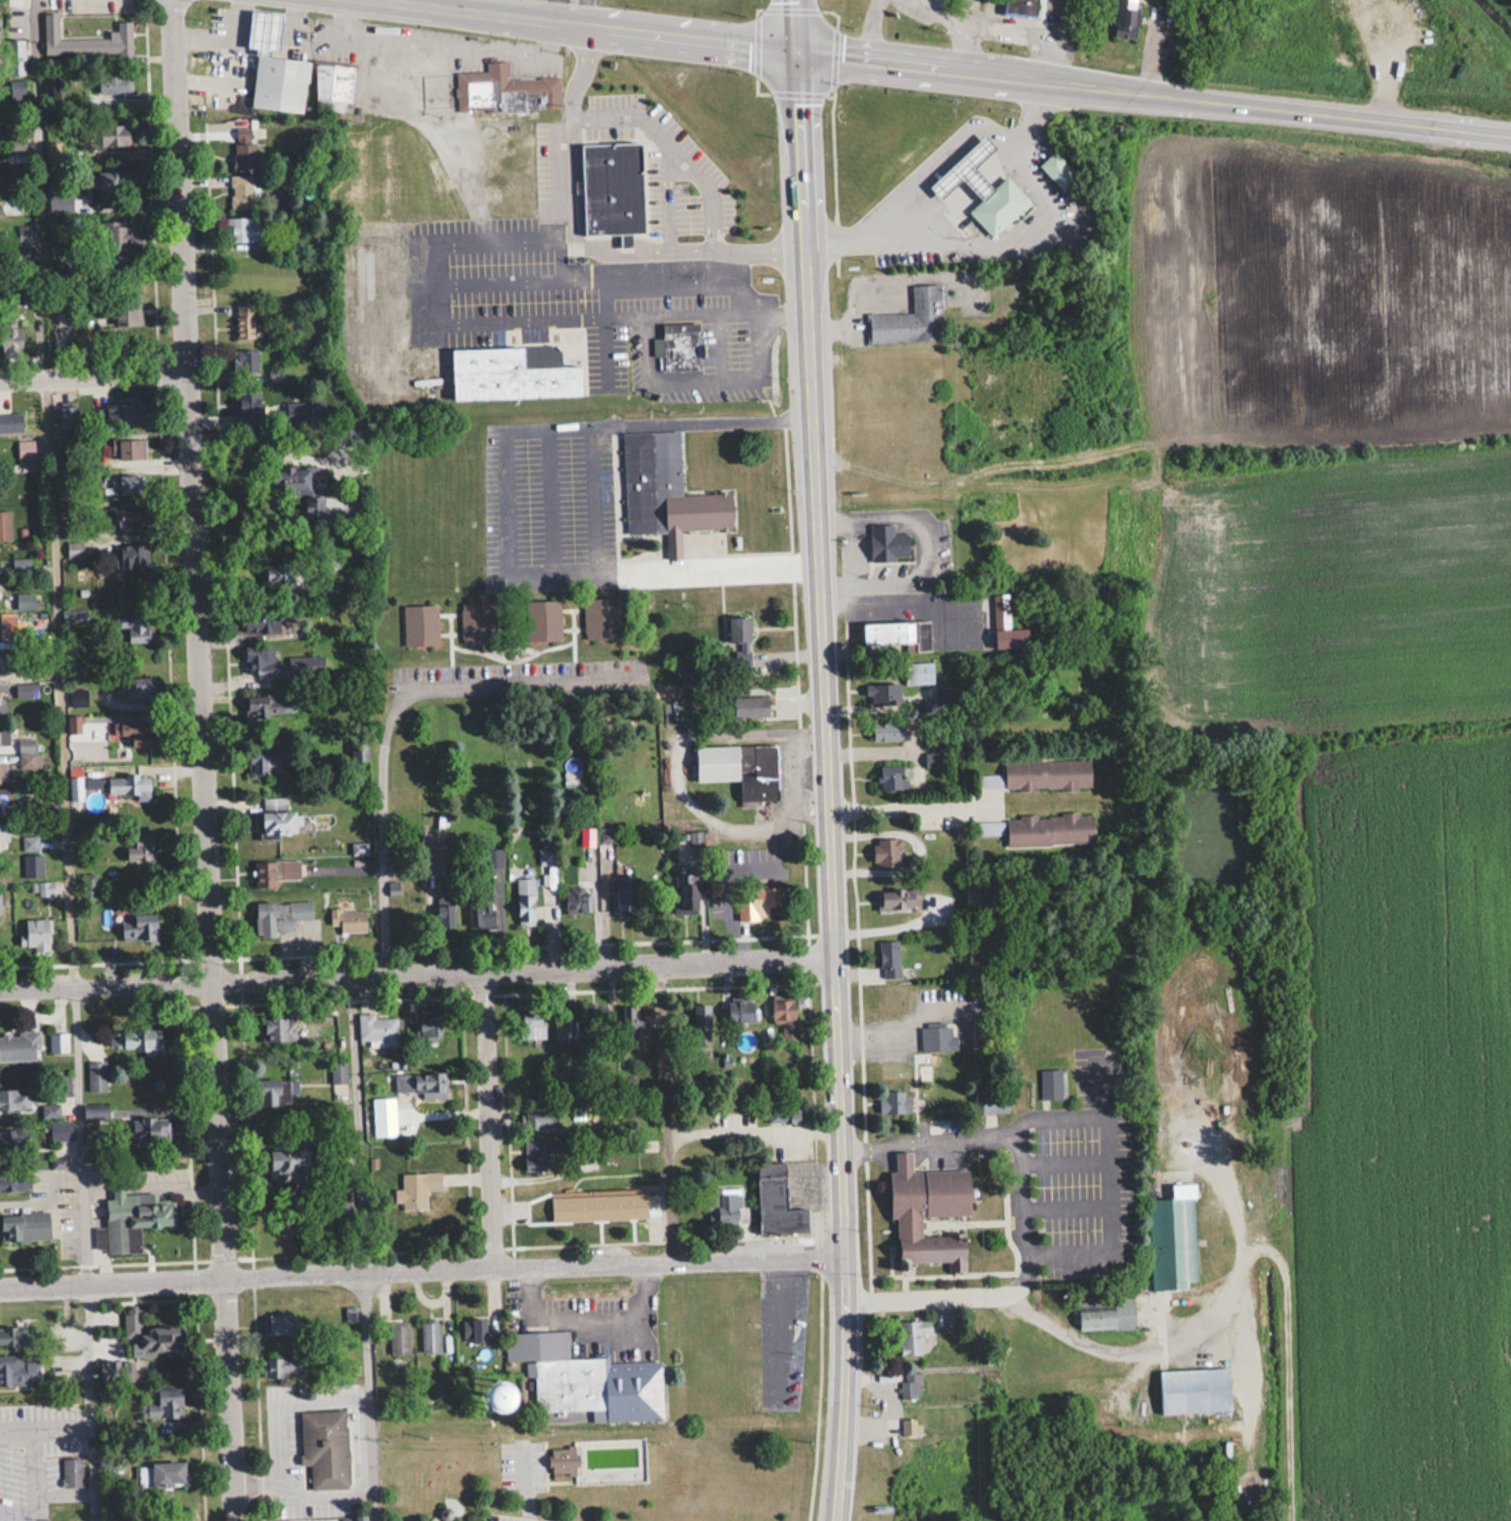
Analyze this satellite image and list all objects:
road: (443, 4)
road: (464, 6)
building: (1020, 7)
road: (566, 14)
road: (584, 14)
building: (1126, 18)
road: (795, 26)
road: (959, 26)
road: (862, 30)
building: (264, 31)
road: (1021, 33)
building: (92, 40)
road: (437, 43)
traffic signals: (796, 53)
road: (936, 68)
building: (277, 82)
building: (112, 83)
building: (343, 83)
building: (325, 88)
building: (50, 89)
building: (515, 90)
road: (1502, 132)
building: (113, 135)
building: (244, 150)
road: (670, 151)
building: (53, 152)
building: (967, 170)
building: (1058, 170)
building: (113, 181)
building: (614, 189)
building: (240, 192)
building: (999, 205)
building: (242, 229)
building: (17, 235)
building: (123, 238)
road: (738, 307)
building: (128, 311)
building: (910, 319)
building: (244, 320)
building: (11, 341)
building: (688, 348)
building: (245, 360)
building: (526, 375)
road: (95, 379)
building: (247, 403)
building: (124, 415)
building: (11, 422)
building: (25, 449)
building: (127, 449)
building: (297, 481)
building: (126, 484)
building: (667, 490)
road: (552, 499)
building: (339, 510)
building: (125, 517)
building: (5, 526)
building: (889, 543)
road: (932, 548)
building: (74, 550)
building: (129, 556)
building: (21, 566)
building: (281, 573)
road: (899, 606)
building: (601, 619)
building: (542, 621)
building: (261, 622)
building: (478, 623)
building: (420, 625)
building: (139, 629)
building: (739, 630)
building: (897, 633)
building: (1011, 639)
building: (260, 660)
building: (3, 661)
building: (922, 672)
road: (505, 678)
building: (138, 689)
building: (884, 694)
building: (941, 700)
building: (0, 705)
building: (269, 715)
building: (127, 732)
building: (887, 732)
building: (4, 737)
building: (25, 752)
building: (264, 758)
building: (934, 759)
road: (205, 760)
building: (740, 768)
building: (1, 772)
building: (1047, 774)
building: (891, 776)
building: (572, 777)
building: (990, 779)
building: (125, 785)
road: (825, 787)
road: (906, 805)
building: (280, 823)
road: (383, 827)
building: (1050, 830)
building: (2, 834)
building: (140, 850)
building: (887, 852)
building: (432, 853)
building: (545, 856)
building: (31, 866)
building: (272, 873)
building: (42, 888)
building: (525, 893)
building: (685, 894)
building: (757, 899)
building: (897, 899)
building: (579, 900)
building: (625, 900)
building: (279, 915)
building: (445, 916)
building: (480, 919)
building: (348, 921)
building: (140, 932)
building: (37, 934)
building: (889, 959)
road: (415, 970)
building: (740, 1011)
building: (631, 1017)
building: (785, 1017)
building: (701, 1023)
building: (532, 1026)
building: (563, 1027)
building: (278, 1028)
building: (432, 1028)
building: (376, 1031)
building: (937, 1038)
building: (138, 1040)
building: (57, 1042)
building: (19, 1046)
building: (1051, 1084)
building: (419, 1087)
building: (273, 1093)
building: (14, 1099)
building: (898, 1102)
building: (994, 1103)
building: (95, 1111)
building: (783, 1113)
road: (492, 1117)
building: (540, 1120)
building: (60, 1130)
building: (150, 1131)
building: (15, 1141)
road: (903, 1144)
building: (538, 1152)
building: (291, 1164)
building: (415, 1190)
building: (777, 1202)
building: (598, 1206)
building: (725, 1206)
building: (928, 1212)
building: (133, 1219)
building: (24, 1227)
building: (1171, 1239)
road: (422, 1270)
building: (1110, 1315)
building: (281, 1325)
building: (474, 1330)
building: (14, 1336)
building: (430, 1336)
building: (912, 1336)
building: (149, 1337)
building: (398, 1338)
road: (1102, 1349)
building: (282, 1368)
building: (19, 1369)
building: (115, 1372)
building: (586, 1379)
building: (909, 1385)
building: (1194, 1389)
road: (365, 1396)
road: (87, 1402)
building: (162, 1403)
building: (506, 1403)
building: (908, 1426)
road: (59, 1431)
road: (16, 1433)
building: (324, 1447)
road: (273, 1451)
building: (562, 1460)
parking lot: (532, 1465)
building: (71, 1472)
building: (162, 1474)
park: (445, 1474)
road: (34, 1477)
road: (522, 1484)
building: (353, 1518)
parking lot: (519, 1518)

